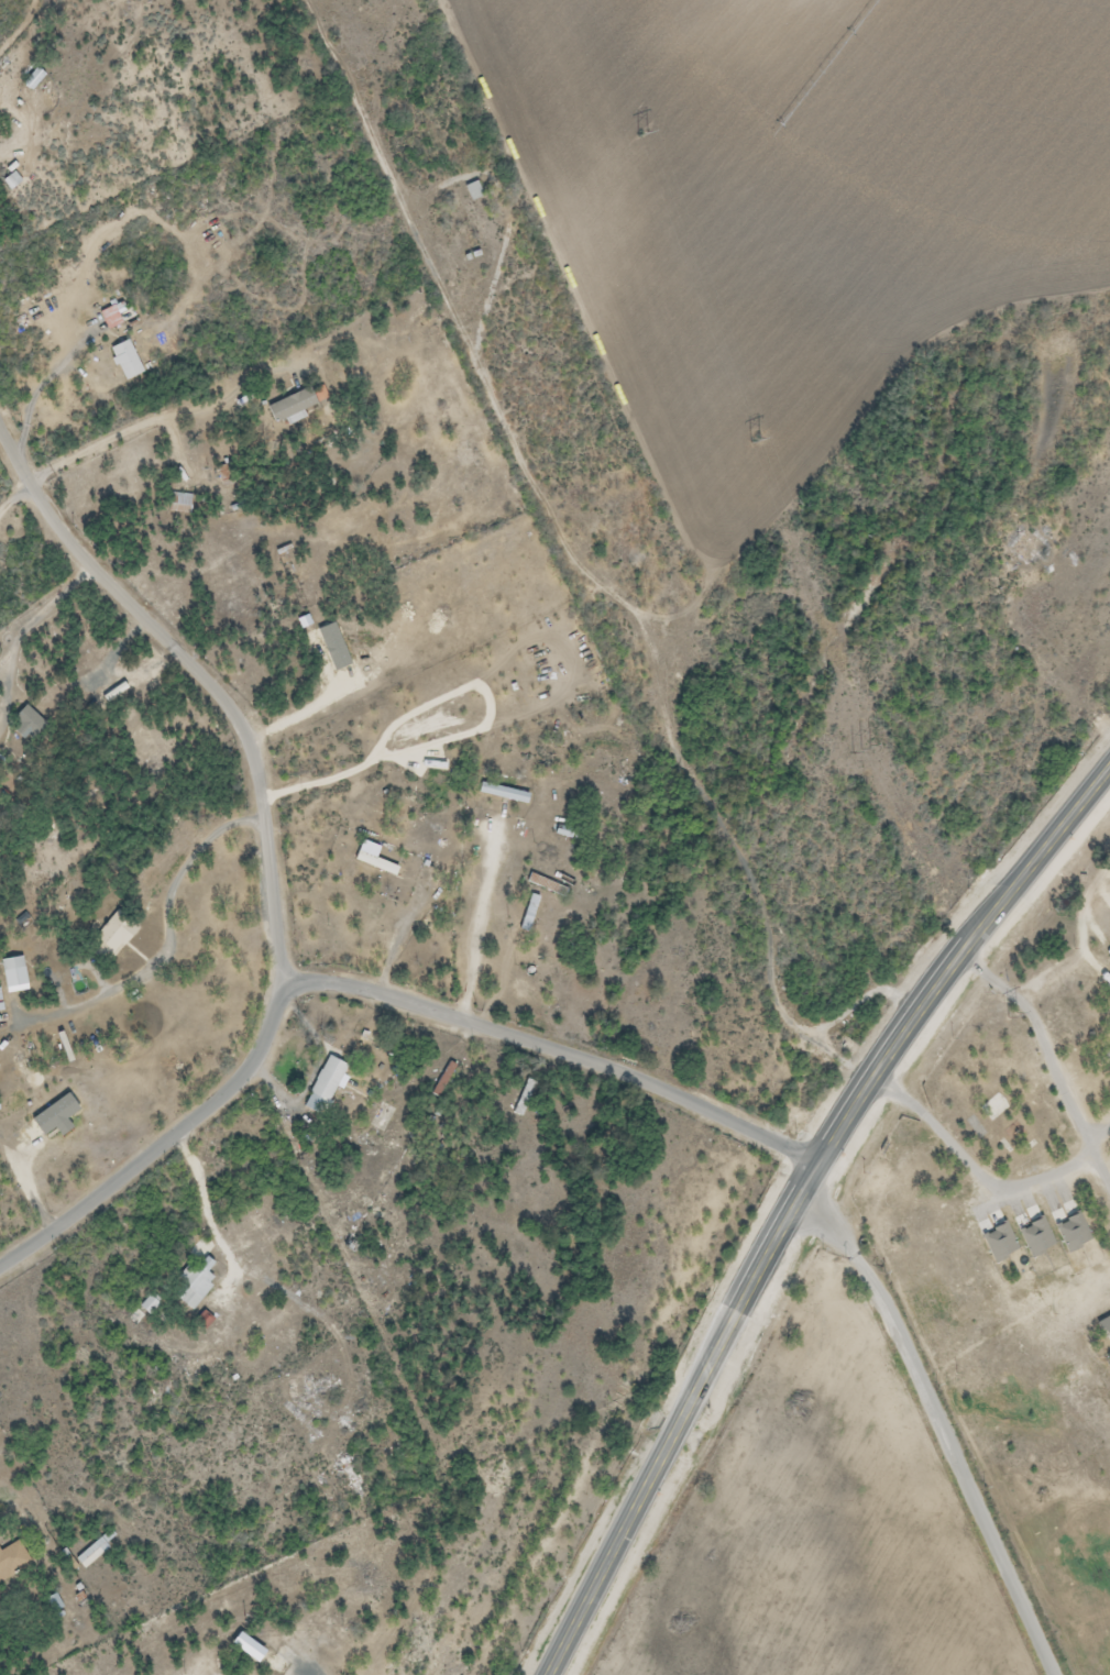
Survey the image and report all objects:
building: (31, 79)
power tower: (642, 133)
building: (10, 181)
building: (473, 214)
building: (108, 318)
building: (124, 361)
building: (290, 406)
power tower: (756, 441)
building: (179, 504)
building: (1026, 549)
road: (199, 671)
building: (110, 696)
building: (28, 723)
power tower: (865, 749)
building: (502, 794)
building: (374, 864)
building: (546, 886)
building: (110, 937)
building: (12, 973)
power tower: (1015, 1016)
road: (559, 1050)
building: (441, 1080)
building: (323, 1087)
road: (169, 1143)
road: (800, 1203)
building: (248, 1222)
building: (194, 1283)
building: (147, 1305)
road: (948, 1425)
building: (348, 1431)
building: (90, 1554)
building: (12, 1561)
building: (196, 1666)

